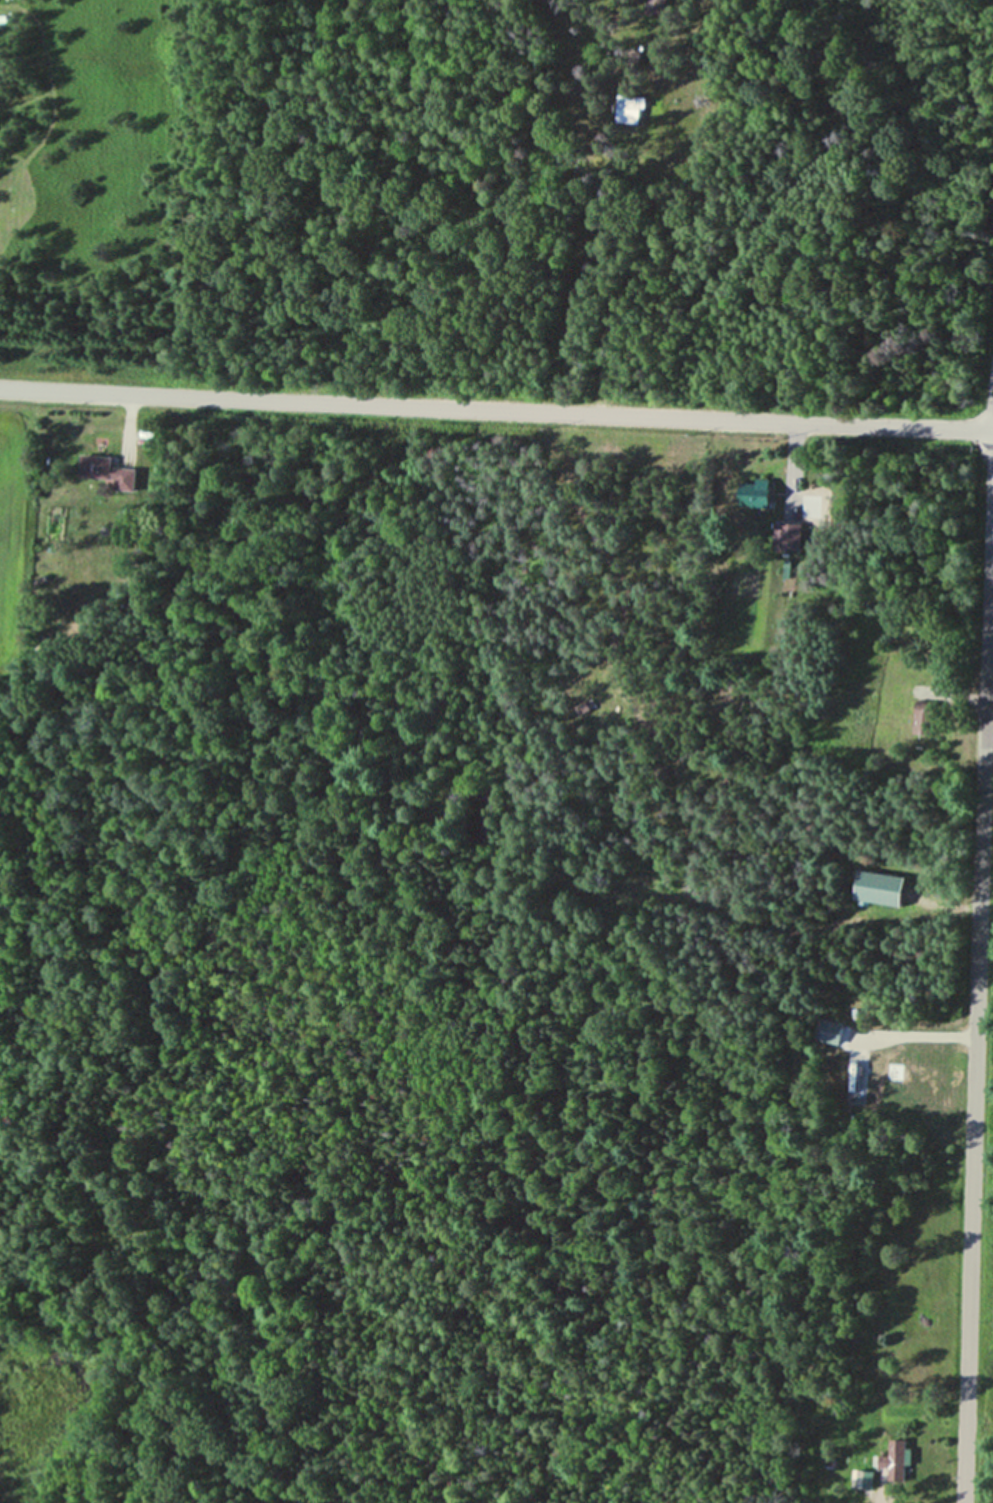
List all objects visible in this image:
building: (655, 4)
building: (630, 111)
road: (496, 412)
road: (125, 420)
road: (794, 462)
building: (108, 473)
building: (748, 494)
road: (979, 987)
building: (898, 1460)

